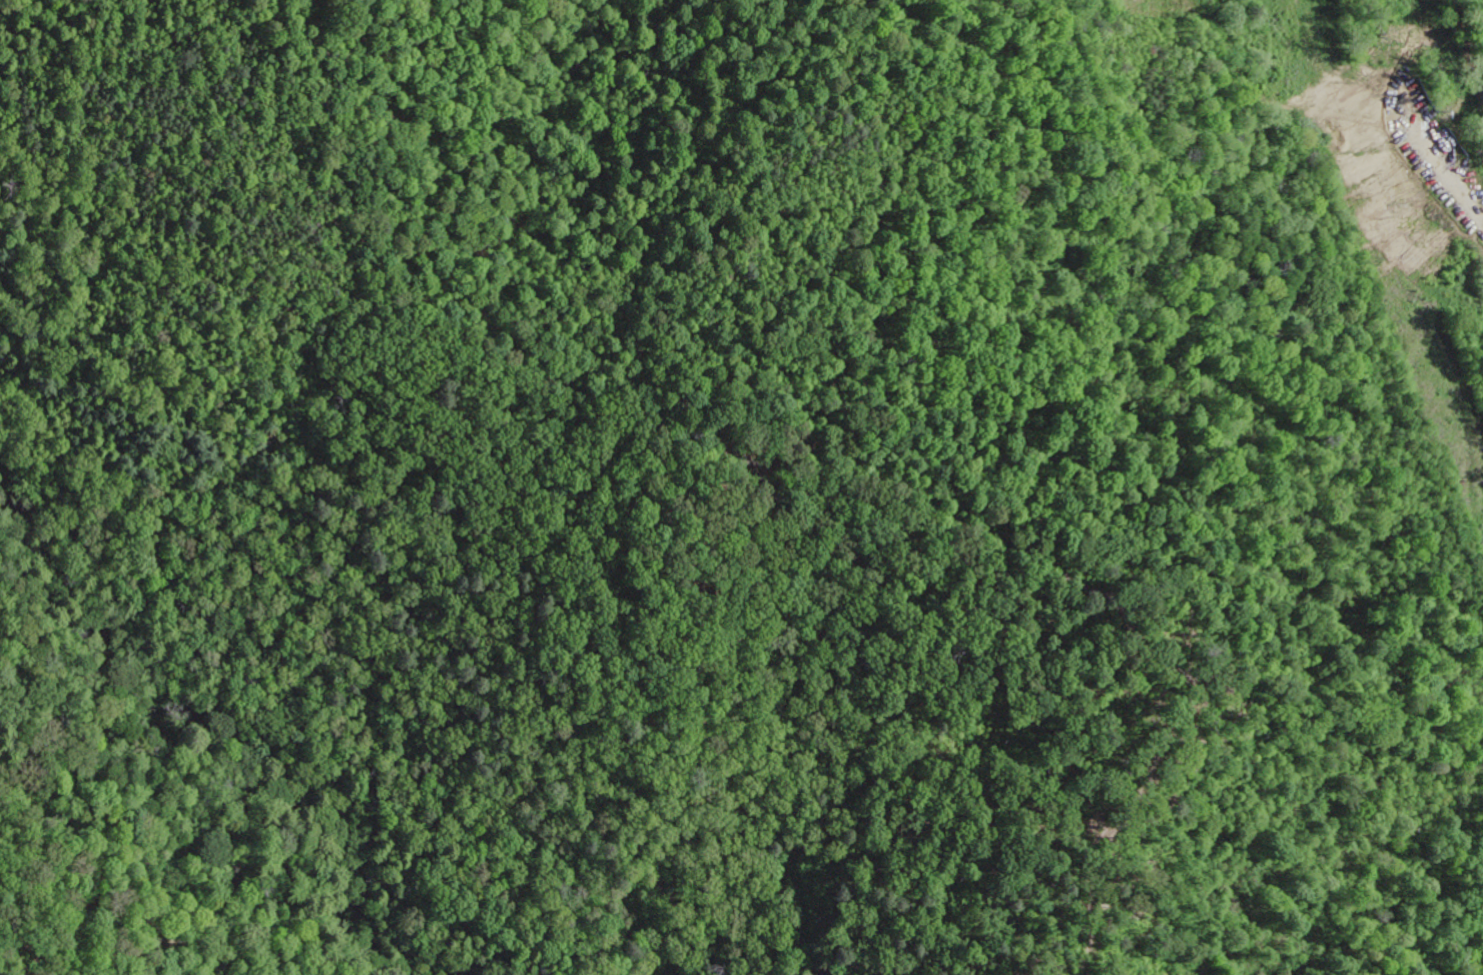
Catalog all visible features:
road: (1453, 182)

